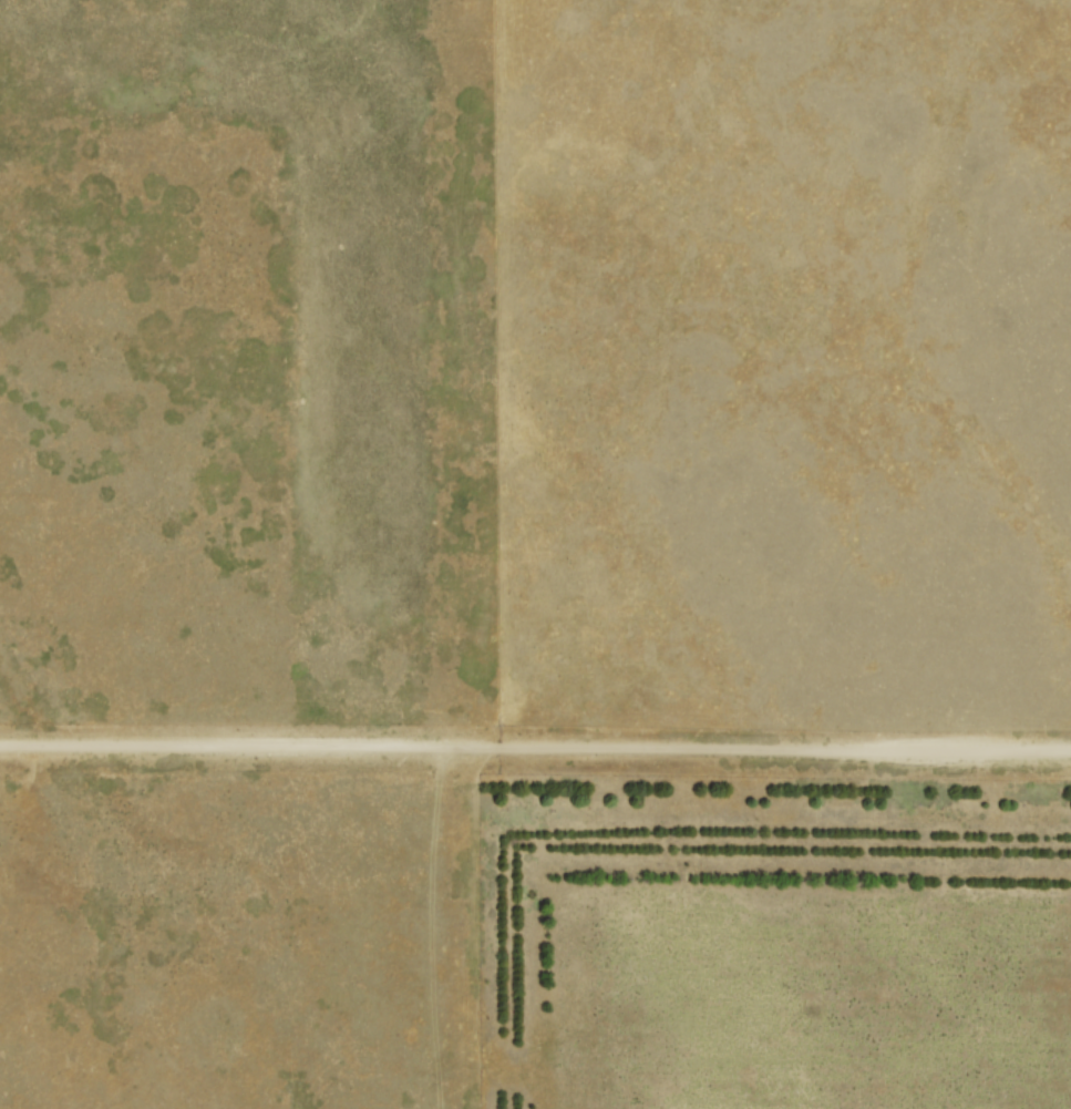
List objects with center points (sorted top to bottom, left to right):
road: (535, 746)
crop: (810, 996)

